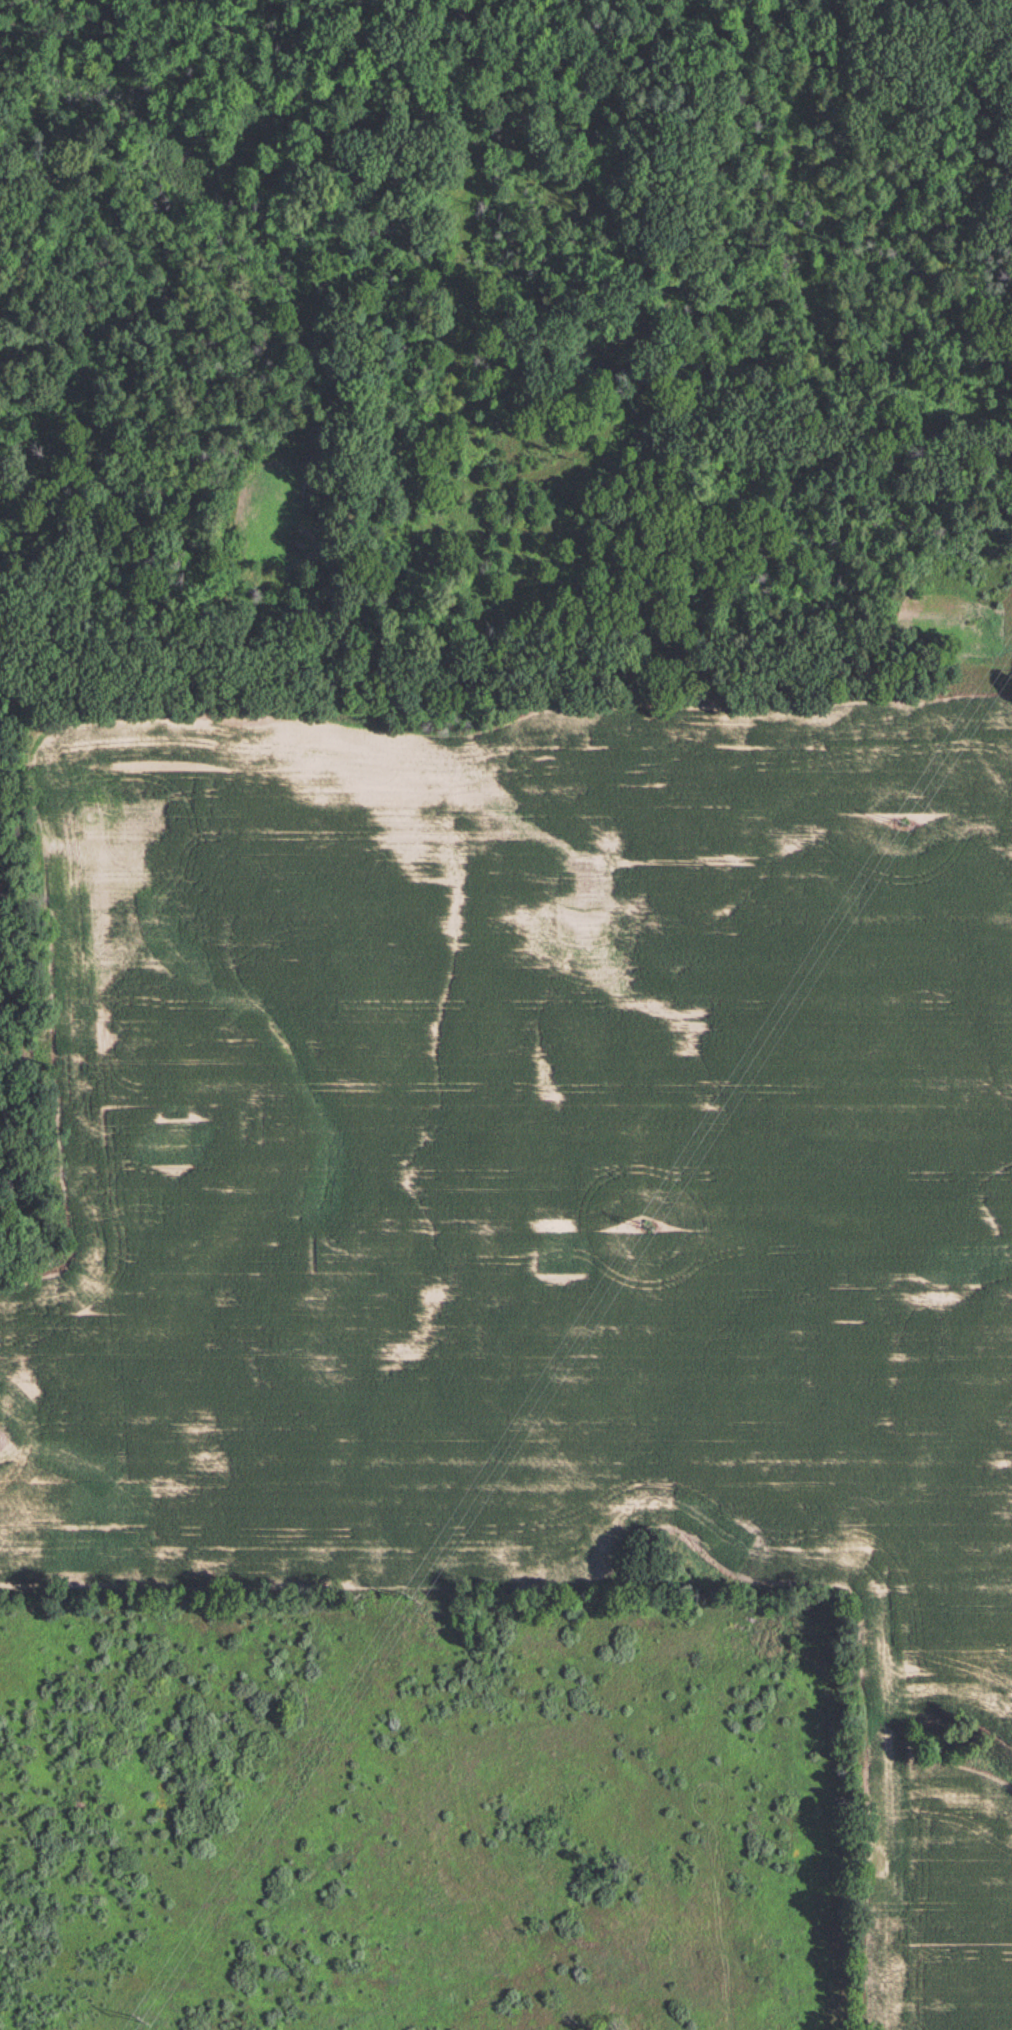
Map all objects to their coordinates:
power tower: (905, 825)
crop: (549, 1197)
power tower: (649, 1233)
power tower: (420, 1601)
building: (654, 1645)
building: (502, 1789)
building: (452, 1809)
building: (472, 1817)
building: (413, 1854)
building: (468, 1857)
power tower: (147, 2026)

